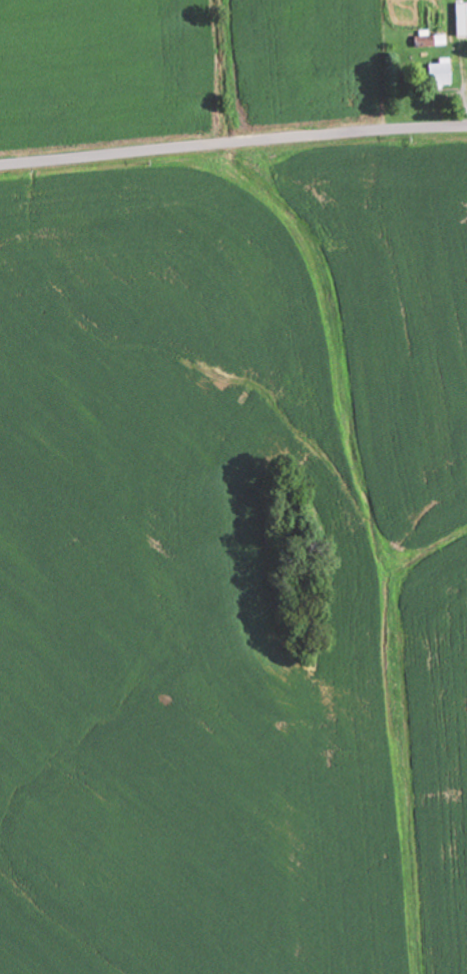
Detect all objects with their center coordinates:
building: (460, 22)
road: (233, 142)

